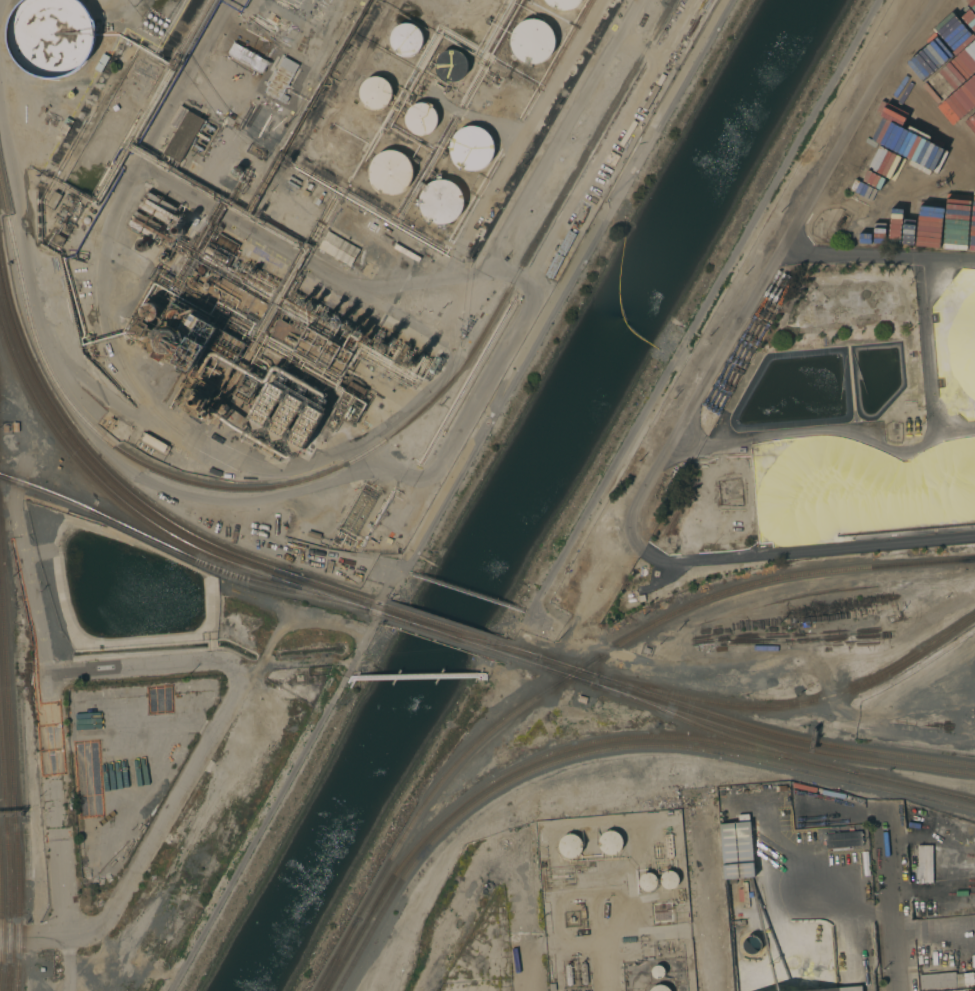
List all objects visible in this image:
building: (562, 3)
railway: (671, 3)
railway: (672, 3)
building: (49, 37)
building: (405, 39)
building: (532, 39)
building: (102, 63)
building: (451, 64)
building: (281, 79)
building: (374, 92)
building: (70, 95)
building: (420, 118)
building: (65, 126)
building: (182, 132)
building: (99, 146)
building: (471, 147)
building: (237, 170)
building: (389, 172)
building: (305, 193)
building: (53, 200)
building: (440, 201)
building: (157, 207)
building: (86, 220)
building: (144, 224)
building: (179, 230)
building: (57, 239)
building: (566, 242)
building: (225, 244)
building: (142, 245)
building: (341, 250)
building: (217, 254)
road: (878, 256)
building: (163, 257)
road: (771, 263)
building: (554, 265)
building: (200, 270)
building: (227, 295)
road: (560, 300)
building: (304, 302)
building: (311, 306)
road: (706, 308)
building: (150, 311)
building: (326, 315)
building: (177, 317)
building: (196, 321)
building: (338, 322)
building: (140, 329)
building: (350, 329)
building: (359, 335)
building: (366, 338)
building: (169, 341)
building: (382, 345)
building: (312, 346)
building: (412, 363)
building: (434, 364)
road: (927, 364)
building: (355, 389)
building: (198, 402)
building: (268, 404)
building: (348, 407)
building: (286, 415)
building: (306, 426)
building: (15, 427)
road: (823, 429)
road: (688, 440)
building: (154, 442)
railway: (355, 460)
railway: (130, 493)
railway: (136, 512)
building: (313, 534)
road: (817, 549)
road: (642, 550)
railway: (178, 551)
railway: (372, 611)
railway: (449, 627)
railway: (446, 635)
railway: (463, 636)
railway: (612, 648)
building: (645, 650)
railway: (525, 652)
road: (142, 667)
building: (298, 678)
road: (912, 679)
building: (582, 699)
railway: (795, 704)
railway: (740, 723)
road: (912, 730)
railway: (718, 731)
railway: (738, 732)
railway: (606, 750)
railway: (534, 760)
railway: (14, 772)
railway: (909, 785)
road: (275, 802)
road: (59, 805)
road: (167, 812)
building: (843, 839)
building: (609, 843)
building: (569, 845)
railway: (9, 846)
building: (737, 849)
building: (924, 863)
building: (669, 880)
building: (647, 881)
road: (711, 898)
building: (930, 906)
road: (894, 908)
road: (470, 911)
road: (524, 911)
railway: (1, 916)
road: (925, 930)
road: (35, 938)
railway: (337, 955)
railway: (340, 955)
building: (583, 968)
building: (568, 970)
building: (657, 971)
building: (584, 978)
building: (568, 979)
building: (940, 980)
building: (659, 988)
building: (840, 989)

